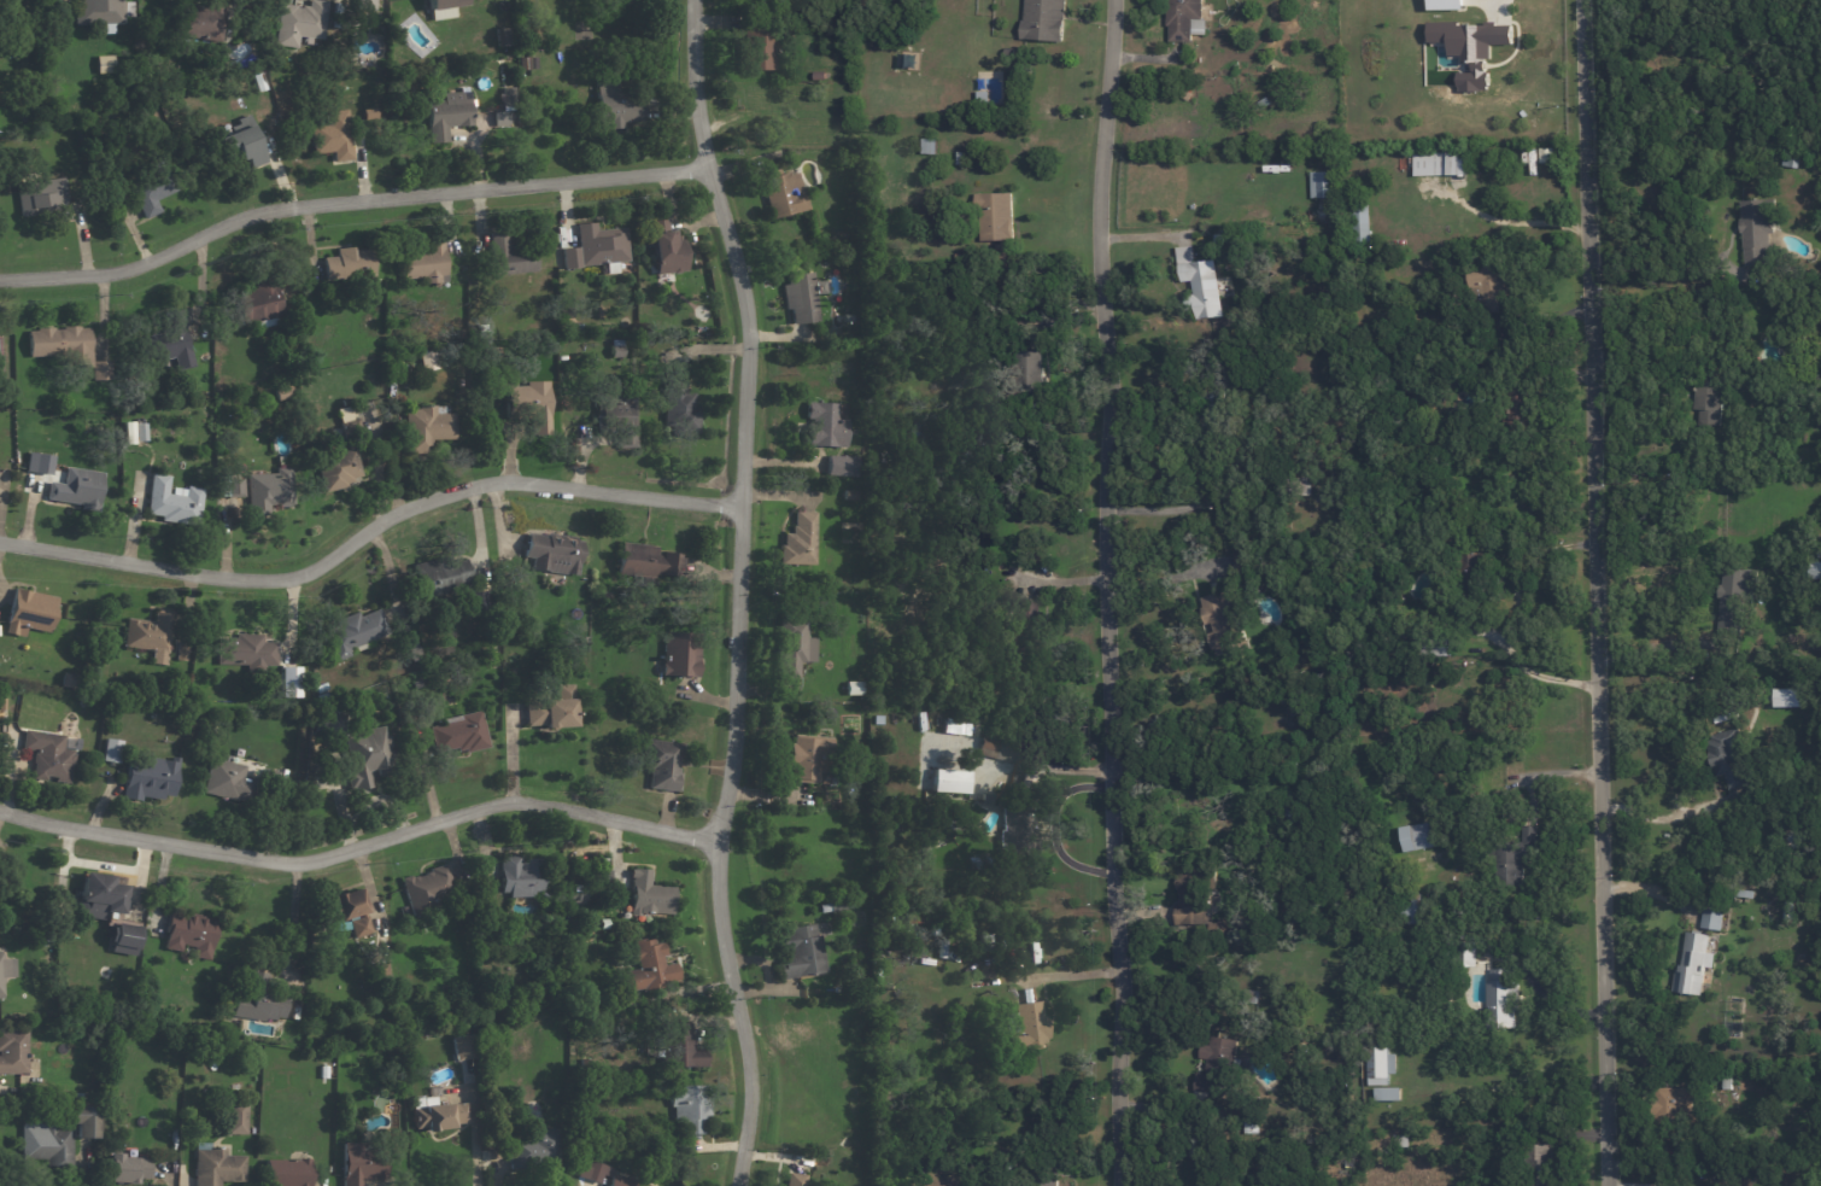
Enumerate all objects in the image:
building: (1446, 4)
building: (363, 5)
building: (444, 8)
building: (99, 14)
building: (1184, 21)
building: (197, 22)
building: (1042, 22)
building: (298, 25)
building: (498, 35)
building: (1471, 47)
building: (756, 52)
building: (47, 55)
building: (527, 65)
building: (103, 66)
building: (820, 77)
building: (446, 78)
building: (258, 88)
building: (507, 94)
building: (1263, 105)
building: (616, 107)
building: (368, 116)
building: (447, 117)
building: (497, 117)
building: (332, 138)
building: (240, 147)
building: (927, 148)
building: (1547, 156)
building: (960, 160)
building: (1791, 160)
building: (1438, 162)
building: (1322, 186)
building: (148, 187)
building: (781, 195)
road: (347, 198)
building: (42, 200)
building: (994, 217)
building: (1358, 223)
building: (1758, 228)
building: (597, 251)
building: (664, 251)
building: (1001, 257)
building: (508, 258)
building: (426, 264)
building: (349, 268)
building: (1189, 273)
road: (1668, 282)
building: (1491, 297)
building: (801, 298)
building: (257, 304)
building: (482, 329)
building: (578, 331)
building: (166, 344)
building: (62, 346)
building: (616, 352)
building: (426, 358)
building: (397, 366)
building: (98, 373)
building: (1027, 380)
building: (281, 396)
building: (1710, 401)
building: (1520, 403)
building: (529, 408)
building: (679, 409)
building: (617, 419)
building: (1207, 419)
building: (346, 420)
building: (826, 426)
building: (426, 431)
building: (141, 433)
building: (912, 434)
building: (36, 461)
building: (838, 467)
building: (333, 469)
building: (1302, 487)
building: (76, 489)
building: (268, 493)
building: (849, 497)
building: (171, 503)
building: (1374, 504)
road: (368, 525)
building: (798, 542)
building: (552, 554)
building: (1254, 560)
building: (643, 566)
building: (1469, 571)
building: (1820, 572)
building: (439, 578)
road: (738, 592)
road: (1106, 592)
road: (1592, 592)
building: (1734, 595)
building: (31, 610)
building: (1218, 621)
building: (1018, 626)
building: (352, 631)
building: (148, 633)
road: (1659, 639)
building: (1434, 645)
building: (792, 647)
building: (178, 648)
building: (245, 650)
building: (679, 654)
building: (78, 661)
road: (1528, 664)
building: (70, 680)
building: (287, 680)
building: (854, 687)
building: (320, 688)
building: (907, 694)
building: (1787, 695)
building: (321, 697)
building: (304, 701)
building: (552, 709)
building: (192, 719)
building: (954, 726)
building: (459, 734)
building: (997, 748)
building: (110, 749)
building: (48, 755)
building: (364, 755)
building: (807, 756)
building: (1726, 758)
building: (661, 763)
building: (148, 776)
building: (226, 779)
building: (948, 779)
building: (989, 798)
building: (1286, 807)
building: (1019, 820)
building: (1422, 835)
building: (1792, 835)
road: (362, 840)
building: (1509, 858)
building: (519, 875)
building: (598, 876)
building: (429, 888)
building: (567, 889)
building: (649, 894)
building: (96, 895)
building: (1199, 895)
building: (543, 899)
building: (837, 902)
building: (349, 910)
building: (1790, 910)
building: (405, 911)
building: (1411, 911)
road: (291, 913)
building: (566, 913)
building: (1712, 918)
building: (605, 923)
building: (188, 933)
building: (124, 940)
building: (1466, 950)
building: (801, 951)
building: (1692, 964)
building: (644, 965)
building: (4, 970)
building: (379, 970)
building: (1249, 995)
building: (1503, 998)
building: (257, 1000)
building: (1735, 1021)
building: (1027, 1027)
building: (461, 1040)
building: (678, 1046)
building: (13, 1051)
building: (1295, 1063)
building: (1381, 1064)
building: (1219, 1068)
building: (1727, 1081)
building: (658, 1088)
building: (1388, 1093)
building: (686, 1109)
building: (1674, 1110)
building: (437, 1114)
building: (235, 1117)
building: (60, 1138)
building: (1403, 1140)
building: (1198, 1147)
building: (534, 1149)
building: (1690, 1157)
building: (359, 1164)
building: (1540, 1164)
building: (216, 1167)
building: (125, 1168)
building: (596, 1170)
building: (287, 1172)
building: (795, 1179)
building: (1041, 1180)
building: (620, 1181)

